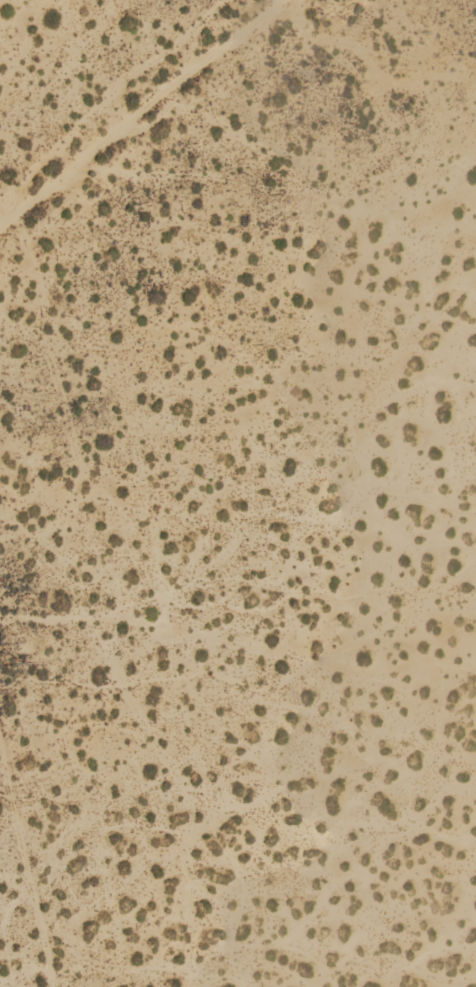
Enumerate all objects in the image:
power tower: (10, 663)

